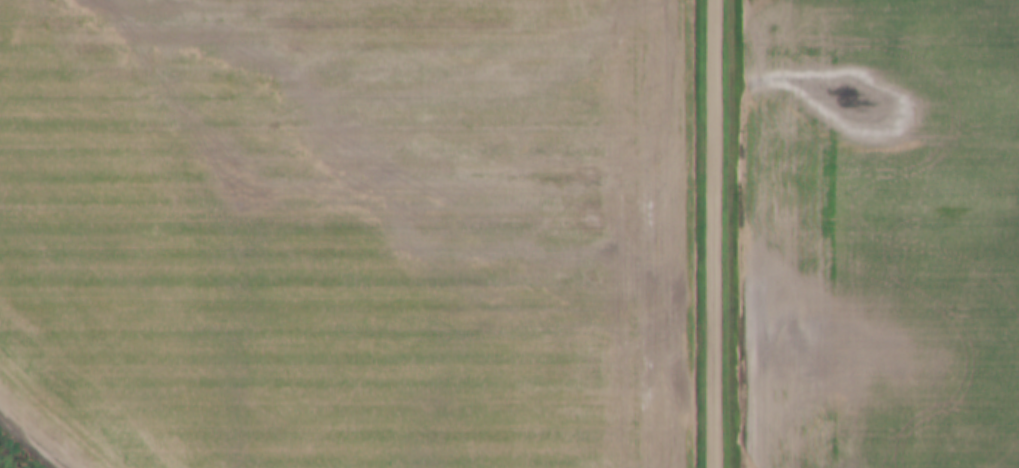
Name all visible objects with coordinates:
road: (716, 234)

